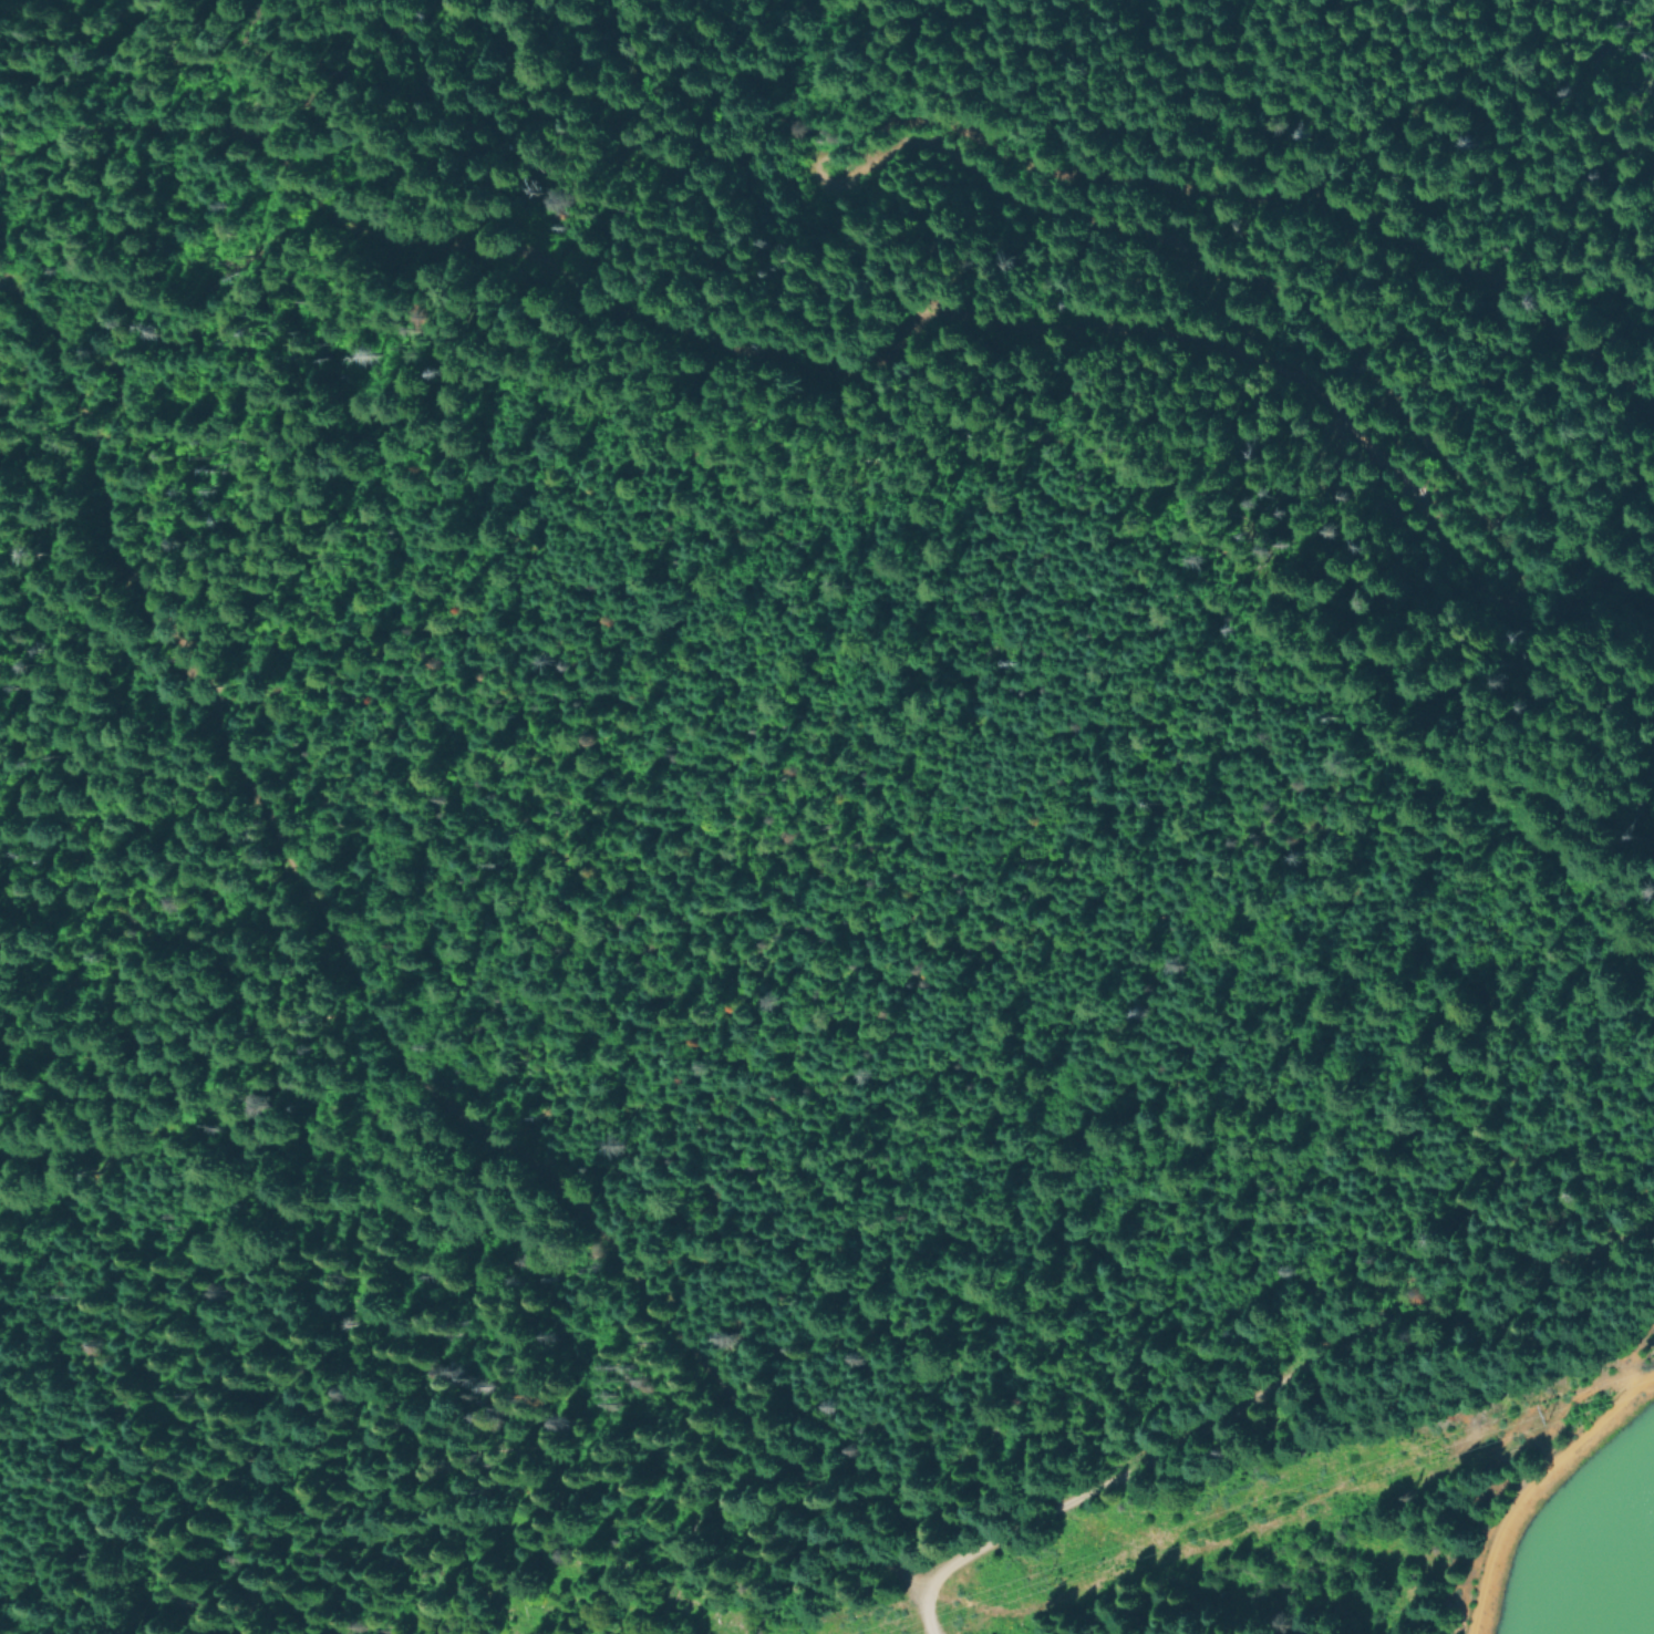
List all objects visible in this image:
road: (95, 464)
road: (1474, 514)
road: (492, 1137)
road: (1273, 1385)
road: (1531, 1483)
road: (911, 1600)

